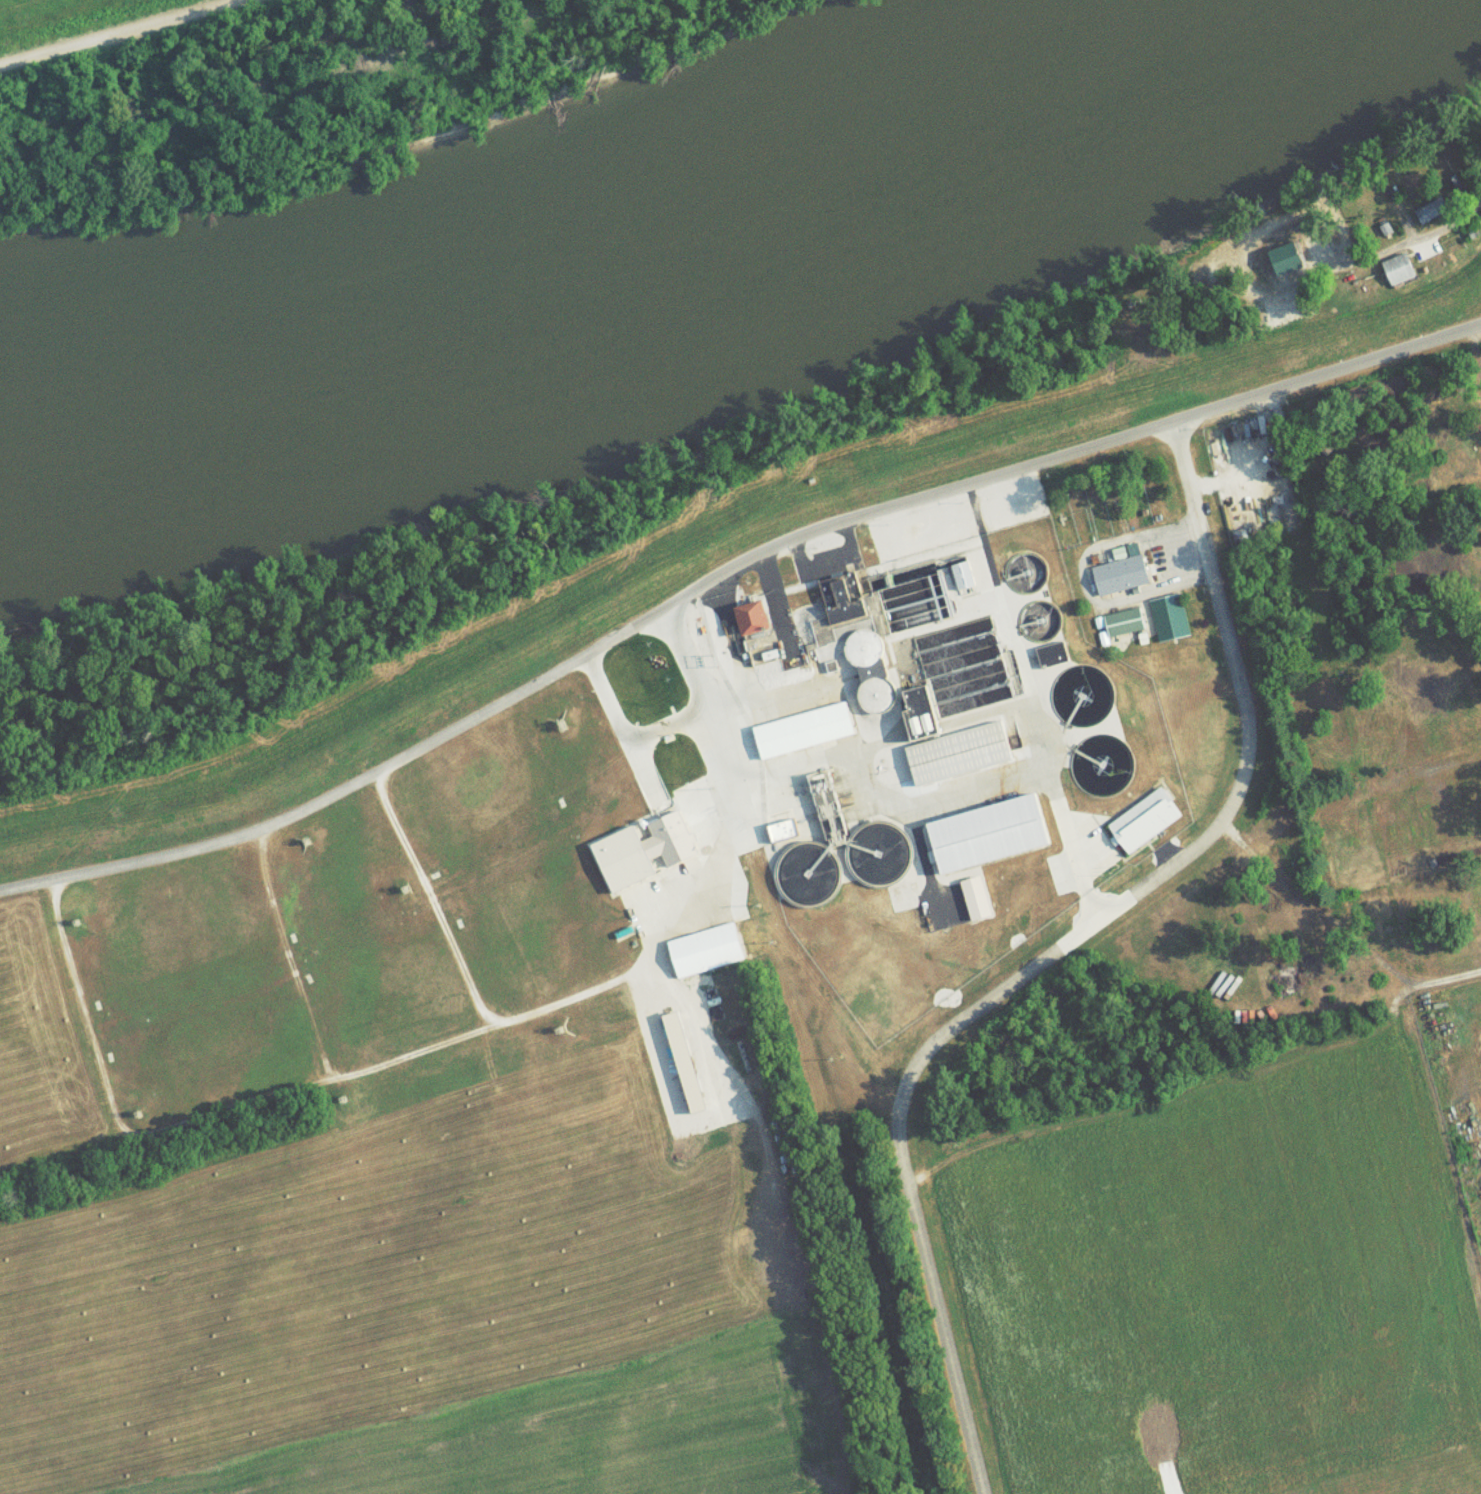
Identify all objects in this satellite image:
road: (122, 35)
building: (1456, 197)
building: (1431, 216)
river: (637, 244)
road: (1380, 251)
building: (1456, 256)
building: (1398, 275)
building: (1145, 350)
road: (1062, 459)
parking lot: (1170, 559)
building: (1025, 575)
storage tank: (1025, 575)
building: (963, 584)
building: (1131, 604)
building: (884, 616)
building: (1038, 623)
storage tank: (1038, 623)
building: (752, 624)
building: (1052, 661)
building: (1077, 714)
building: (804, 735)
wastewater plant: (938, 748)
building: (949, 749)
building: (1098, 772)
road: (343, 795)
building: (1144, 824)
building: (989, 841)
building: (879, 858)
building: (810, 880)
building: (975, 904)
road: (433, 906)
road: (1059, 954)
building: (705, 956)
road: (1447, 978)
road: (513, 1024)
building: (1457, 1079)

